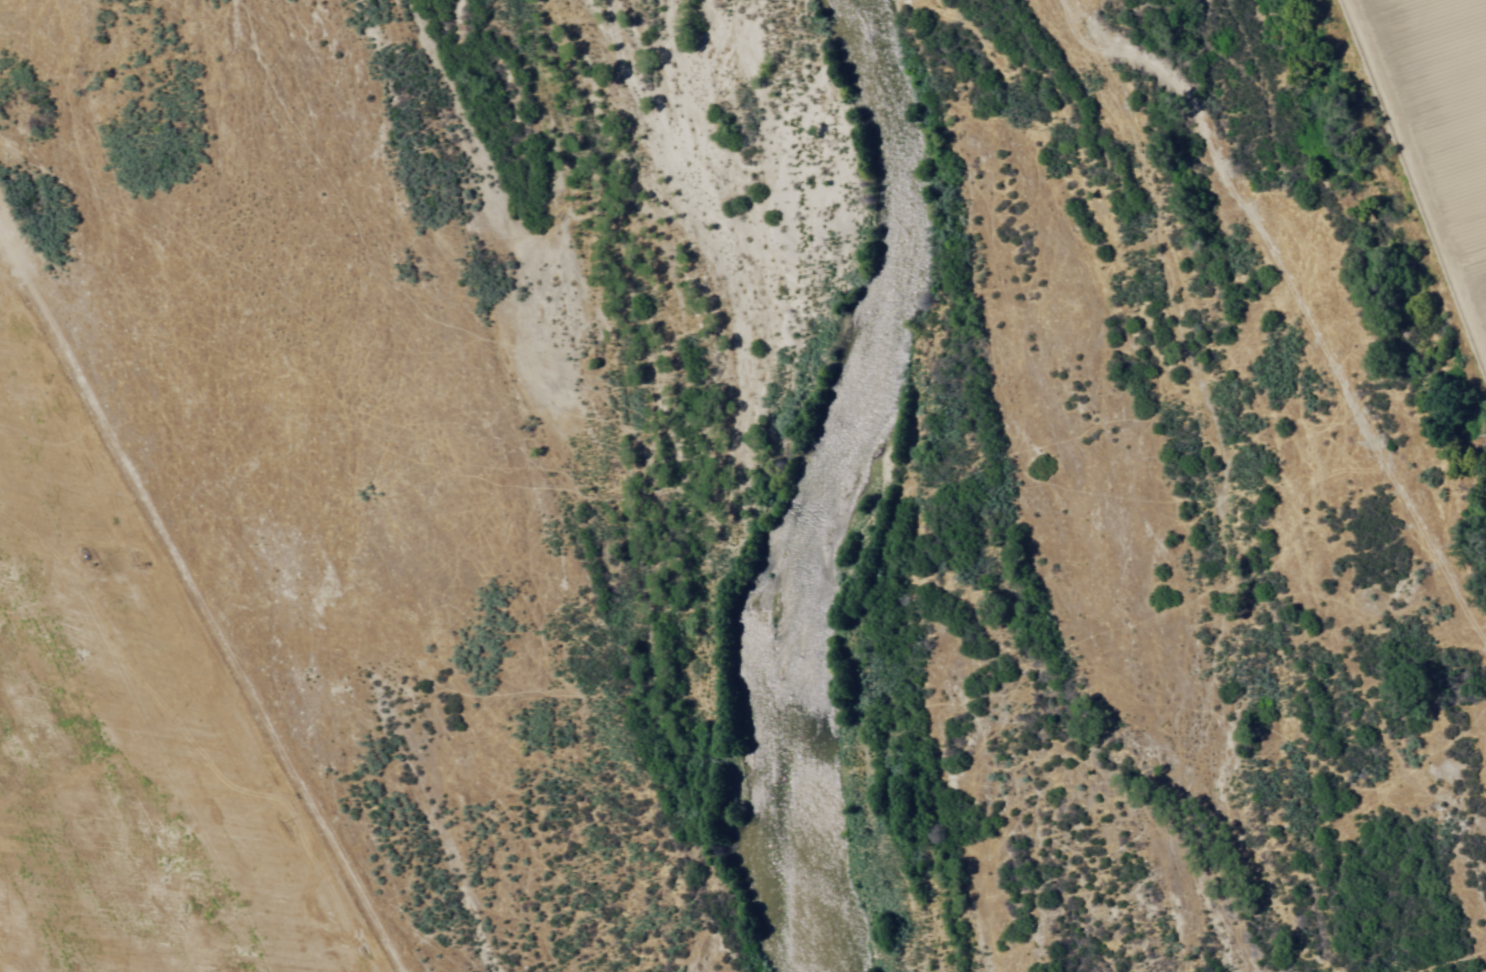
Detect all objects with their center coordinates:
crop: (1448, 105)
road: (1428, 200)
river: (825, 479)
road: (394, 908)
road: (625, 952)

